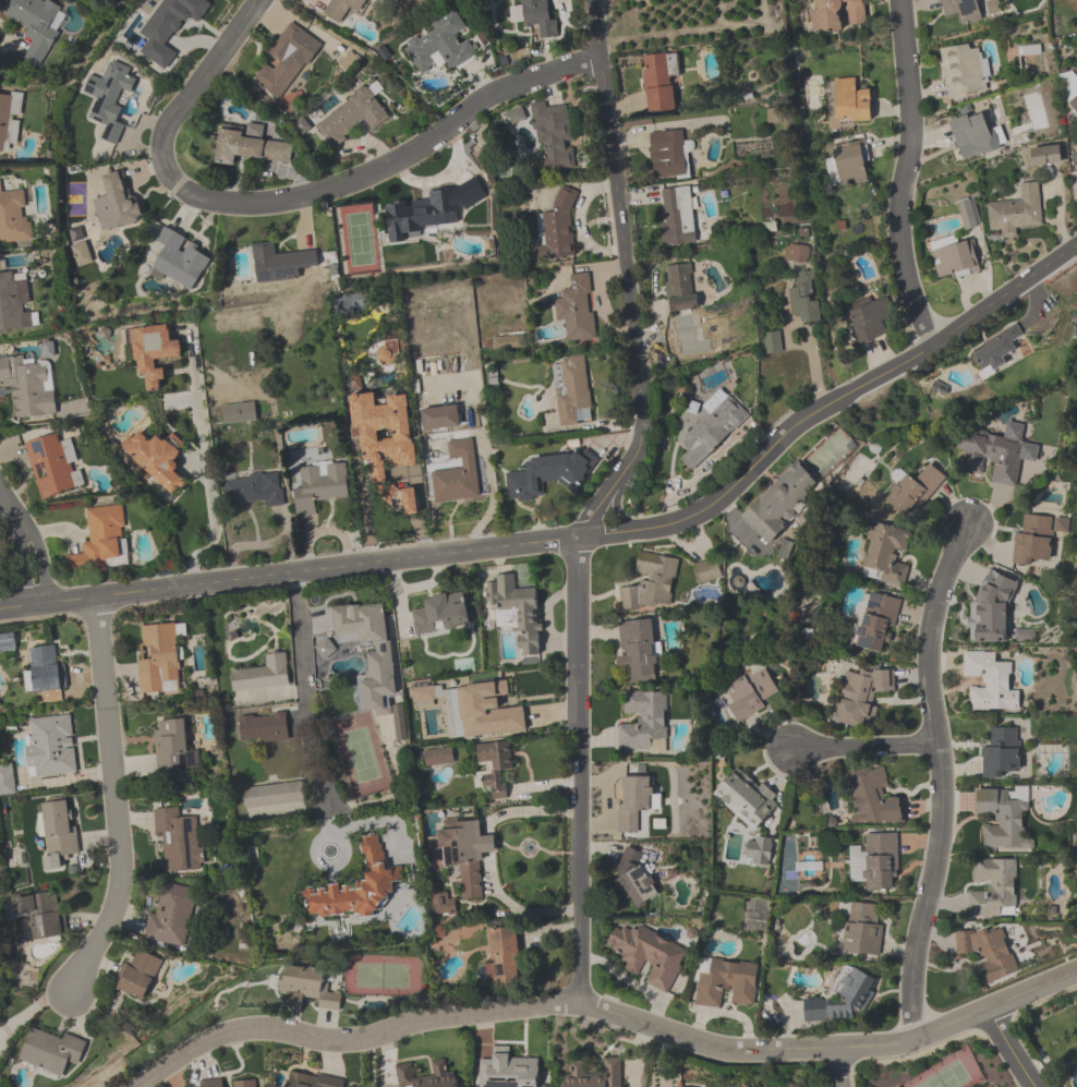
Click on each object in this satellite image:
building: (992, 5)
building: (340, 8)
building: (961, 10)
building: (835, 14)
building: (537, 17)
building: (33, 24)
building: (167, 26)
building: (440, 46)
building: (1027, 51)
building: (286, 62)
building: (963, 71)
building: (658, 82)
road: (194, 89)
building: (108, 98)
building: (846, 102)
building: (352, 118)
building: (9, 120)
road: (662, 125)
building: (975, 134)
building: (553, 138)
building: (245, 146)
building: (668, 156)
building: (1045, 156)
road: (395, 158)
building: (849, 164)
road: (904, 176)
building: (119, 201)
building: (433, 210)
building: (1016, 213)
building: (966, 216)
building: (13, 217)
building: (678, 217)
building: (556, 231)
building: (82, 254)
building: (953, 258)
building: (181, 261)
building: (281, 263)
building: (680, 288)
building: (803, 297)
building: (15, 303)
building: (577, 309)
building: (871, 321)
building: (772, 342)
building: (996, 351)
building: (154, 352)
building: (28, 386)
building: (571, 391)
building: (240, 412)
building: (711, 432)
building: (385, 445)
building: (157, 458)
building: (992, 458)
building: (53, 466)
building: (456, 475)
building: (549, 475)
road: (206, 481)
building: (320, 486)
building: (244, 491)
building: (916, 492)
road: (1, 496)
road: (606, 499)
building: (780, 502)
road: (491, 503)
road: (256, 514)
road: (325, 532)
building: (102, 541)
building: (1033, 541)
road: (582, 542)
road: (27, 544)
building: (884, 556)
building: (707, 572)
building: (652, 584)
building: (517, 612)
building: (992, 612)
building: (440, 614)
building: (878, 624)
building: (1025, 636)
building: (7, 642)
building: (637, 651)
building: (371, 656)
building: (159, 659)
building: (45, 669)
building: (263, 675)
building: (989, 683)
road: (301, 685)
building: (422, 693)
building: (751, 693)
building: (861, 695)
building: (488, 711)
building: (643, 724)
building: (263, 728)
road: (863, 746)
building: (50, 747)
building: (170, 747)
building: (1000, 752)
building: (438, 757)
building: (494, 766)
building: (5, 780)
road: (939, 781)
building: (273, 797)
building: (747, 798)
building: (873, 800)
road: (112, 801)
building: (632, 804)
road: (524, 811)
building: (1003, 817)
building: (58, 830)
building: (178, 841)
road: (487, 844)
building: (463, 852)
building: (758, 852)
building: (875, 861)
building: (634, 879)
building: (358, 887)
building: (993, 887)
building: (443, 904)
road: (513, 907)
building: (41, 915)
building: (171, 917)
building: (862, 930)
building: (987, 953)
building: (648, 955)
building: (503, 957)
building: (140, 976)
building: (724, 981)
building: (306, 988)
building: (842, 999)
road: (351, 1036)
road: (1019, 1049)
road: (830, 1050)
building: (51, 1052)
road: (836, 1068)
building: (507, 1070)
building: (594, 1074)
building: (425, 1076)
building: (312, 1080)
building: (228, 1083)
building: (680, 1086)

